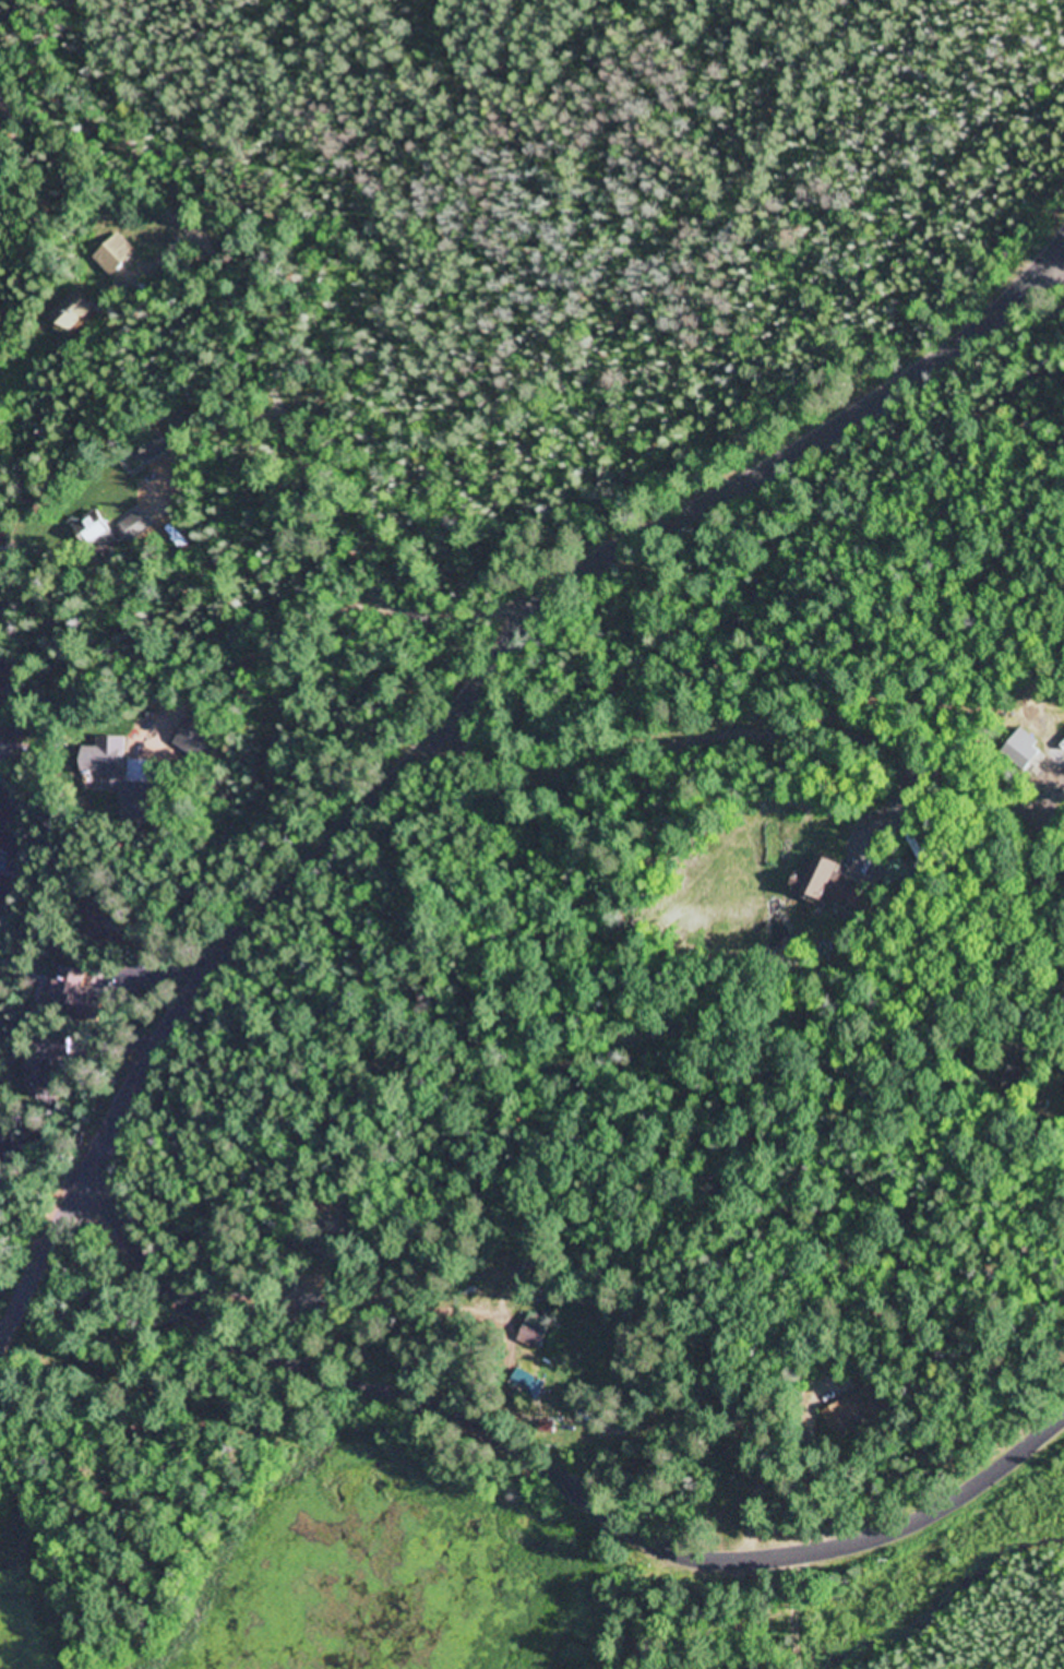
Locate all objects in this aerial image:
road: (1063, 245)
building: (116, 254)
building: (74, 311)
road: (254, 350)
building: (182, 426)
building: (154, 446)
building: (138, 527)
building: (96, 529)
road: (452, 718)
road: (757, 734)
building: (196, 737)
building: (1020, 750)
building: (113, 765)
road: (889, 812)
road: (1049, 814)
road: (1049, 875)
building: (827, 884)
building: (98, 916)
building: (74, 988)
road: (610, 1051)
building: (45, 1080)
building: (2, 1137)
building: (536, 1332)
building: (533, 1384)
building: (856, 1412)
building: (551, 1426)
road: (551, 1480)

